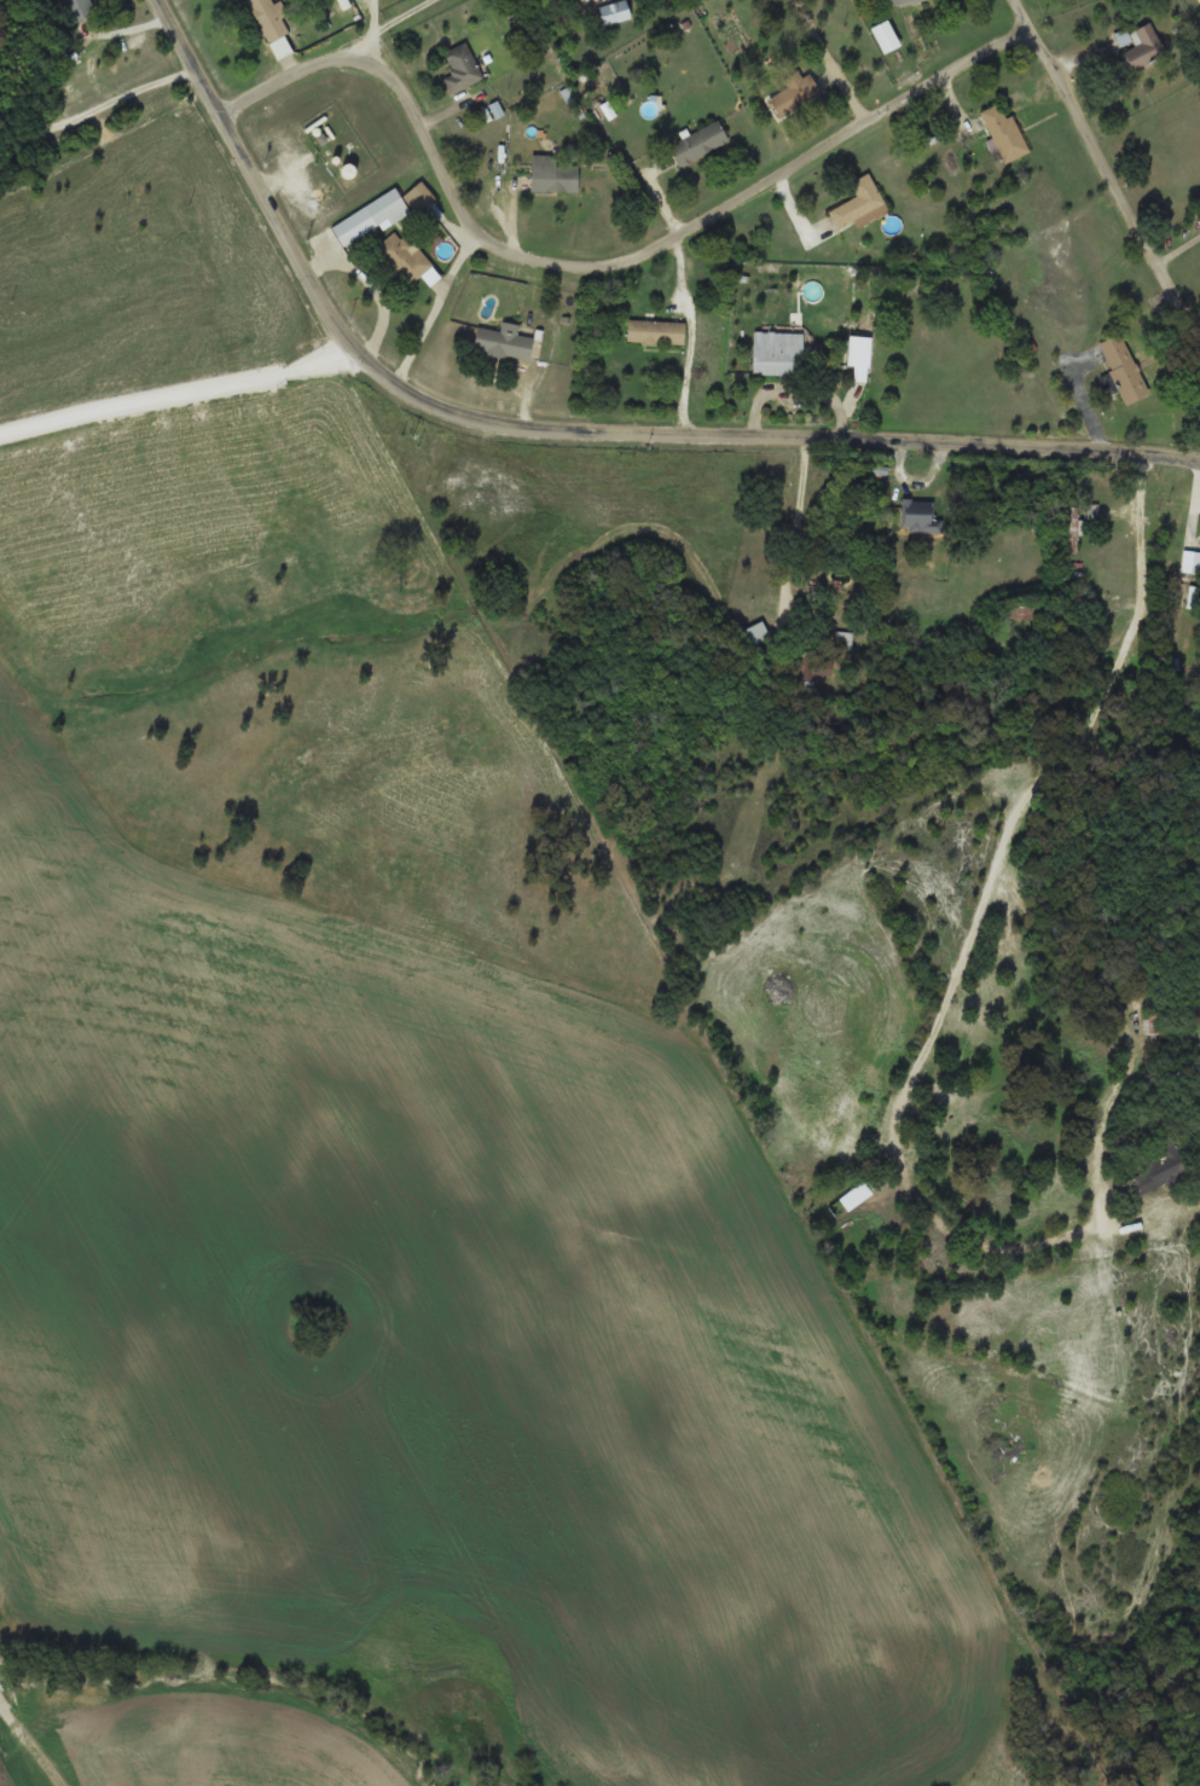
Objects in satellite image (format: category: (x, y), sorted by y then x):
building: (899, 1)
building: (76, 8)
building: (613, 12)
road: (408, 23)
building: (273, 24)
building: (886, 35)
building: (1144, 46)
building: (462, 66)
building: (794, 92)
building: (1004, 132)
building: (697, 143)
road: (1108, 166)
building: (555, 173)
building: (419, 196)
building: (860, 203)
building: (388, 207)
building: (404, 256)
road: (581, 261)
building: (656, 331)
building: (504, 341)
building: (777, 353)
building: (859, 355)
building: (1124, 367)
road: (173, 404)
road: (557, 414)
building: (918, 514)
building: (756, 632)
building: (846, 639)
road: (966, 964)
building: (1159, 1022)
road: (1136, 1080)
building: (1158, 1169)
building: (857, 1194)

